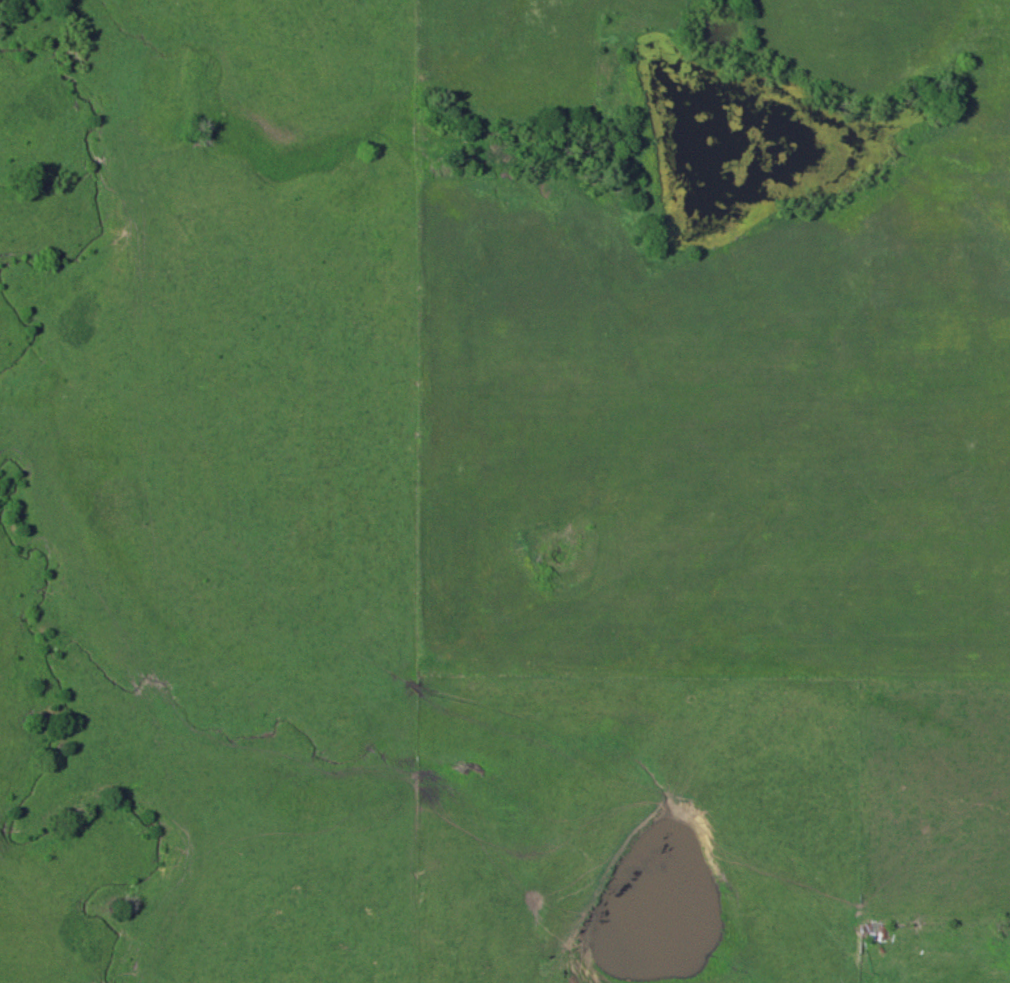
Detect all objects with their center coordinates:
building: (868, 931)

